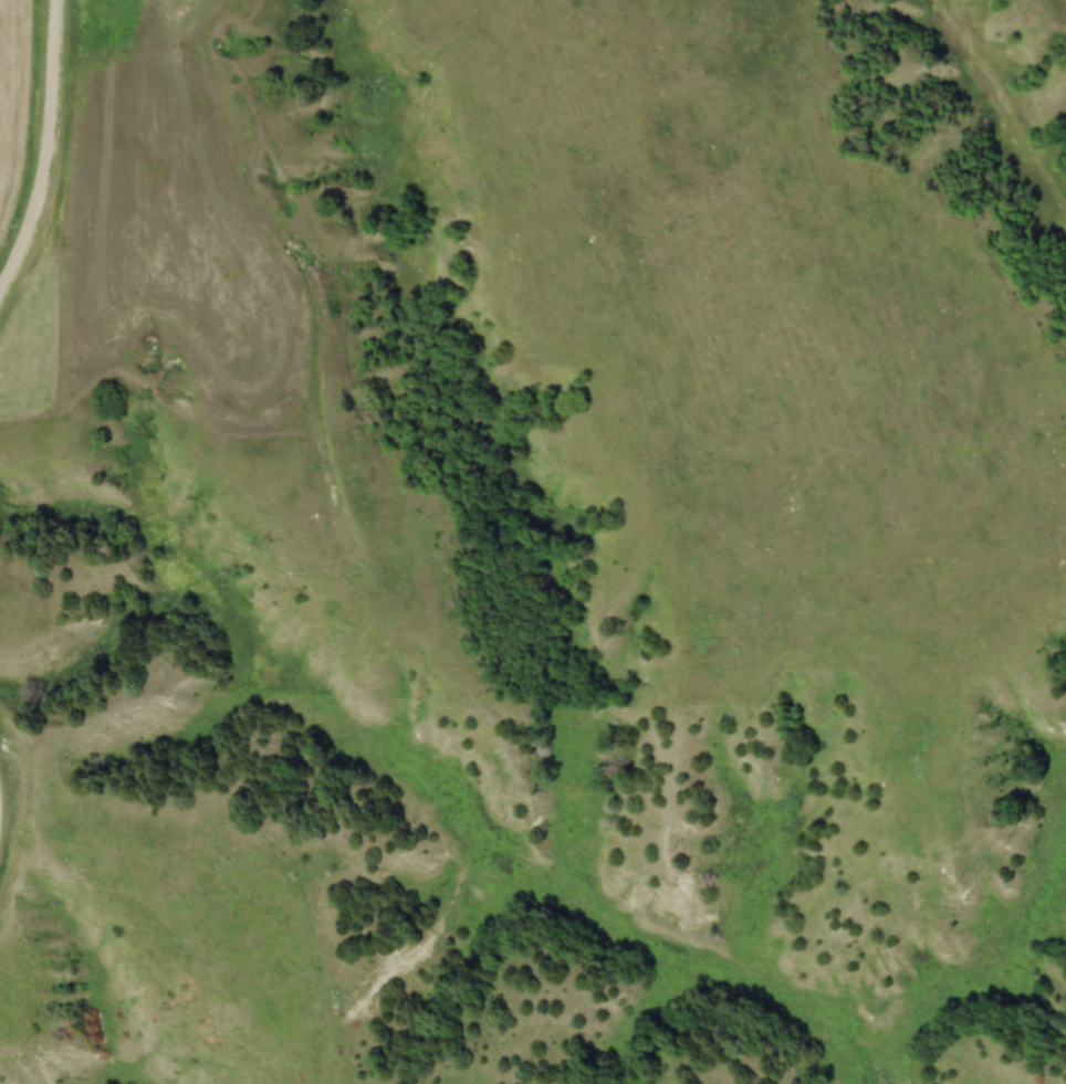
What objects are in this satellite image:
road: (48, 151)

